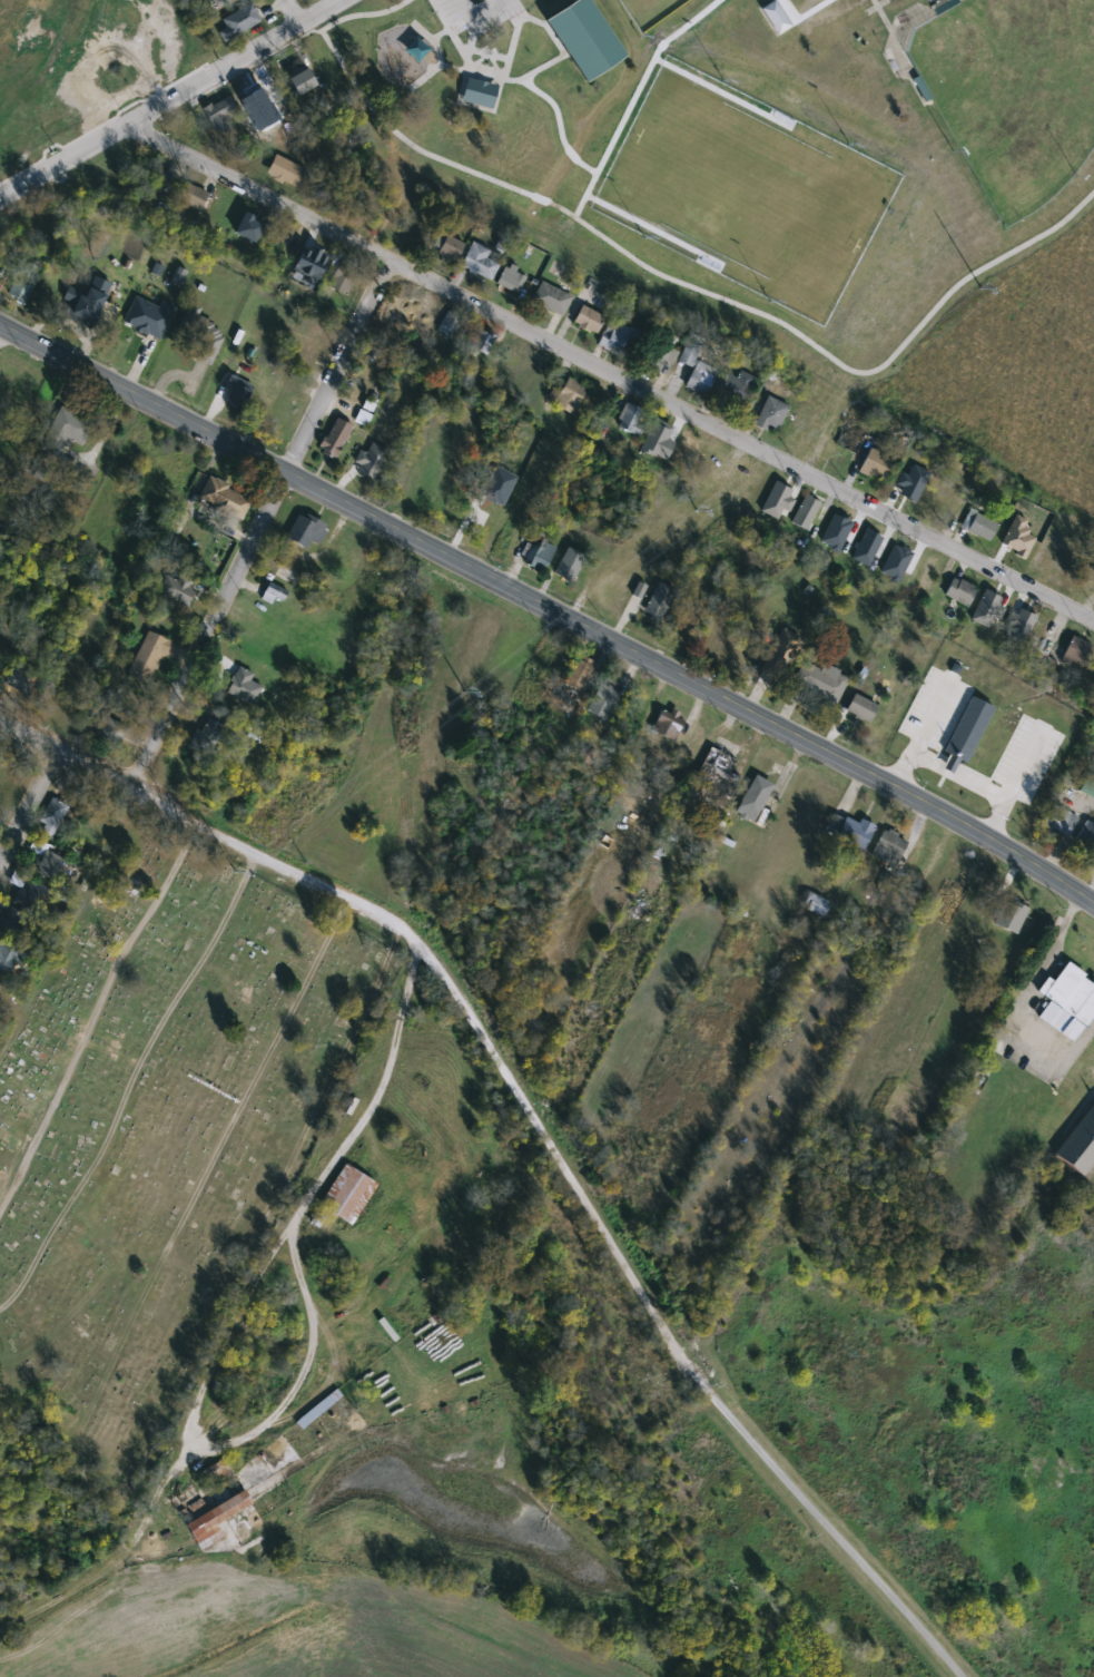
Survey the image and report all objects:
building: (309, 0)
road: (475, 10)
park: (649, 10)
road: (295, 11)
parking lot: (475, 12)
building: (772, 13)
building: (238, 21)
road: (546, 28)
road: (440, 33)
building: (582, 36)
park: (582, 36)
building: (101, 43)
building: (528, 47)
road: (459, 50)
road: (482, 51)
road: (435, 52)
road: (453, 68)
railway: (45, 77)
building: (302, 82)
building: (476, 90)
park: (1012, 91)
building: (259, 98)
road: (171, 99)
building: (218, 111)
building: (186, 126)
road: (559, 129)
building: (43, 130)
park: (747, 143)
building: (287, 171)
building: (162, 179)
park: (745, 189)
building: (193, 196)
building: (248, 226)
building: (282, 243)
building: (450, 246)
building: (308, 262)
building: (480, 262)
road: (664, 274)
building: (344, 276)
building: (511, 279)
building: (22, 283)
power tower: (980, 291)
building: (551, 298)
building: (91, 312)
building: (149, 317)
building: (588, 321)
building: (450, 324)
road: (0, 325)
building: (200, 333)
building: (614, 337)
building: (484, 344)
building: (659, 356)
building: (510, 363)
building: (696, 367)
road: (610, 374)
building: (735, 385)
building: (233, 392)
building: (568, 395)
building: (771, 415)
building: (633, 420)
building: (66, 432)
building: (335, 438)
building: (876, 460)
building: (368, 461)
building: (170, 467)
building: (496, 484)
building: (909, 489)
building: (225, 499)
building: (944, 507)
power tower: (697, 512)
building: (806, 512)
building: (977, 523)
road: (262, 526)
building: (307, 530)
building: (1016, 535)
building: (842, 553)
building: (874, 555)
building: (538, 556)
building: (569, 565)
building: (376, 568)
building: (288, 576)
building: (1085, 579)
building: (175, 588)
building: (959, 592)
building: (275, 594)
building: (658, 602)
road: (550, 610)
building: (1016, 617)
building: (1039, 649)
building: (779, 653)
building: (1076, 653)
building: (149, 658)
building: (18, 679)
building: (821, 681)
building: (242, 685)
power tower: (466, 694)
building: (860, 708)
building: (668, 724)
building: (110, 732)
road: (28, 735)
building: (206, 736)
building: (716, 768)
building: (184, 775)
building: (10, 783)
building: (756, 797)
road: (28, 807)
building: (52, 815)
building: (1061, 822)
building: (855, 833)
building: (93, 834)
building: (1086, 837)
building: (889, 847)
building: (45, 860)
power tower: (236, 874)
building: (651, 877)
building: (31, 895)
building: (816, 904)
building: (1011, 916)
building: (12, 924)
building: (7, 957)
building: (1068, 1002)
road: (101, 1022)
road: (1083, 1036)
road: (372, 1096)
park: (160, 1124)
building: (1080, 1145)
road: (555, 1153)
building: (347, 1195)
road: (295, 1393)
building: (318, 1410)
building: (217, 1478)
building: (215, 1521)

